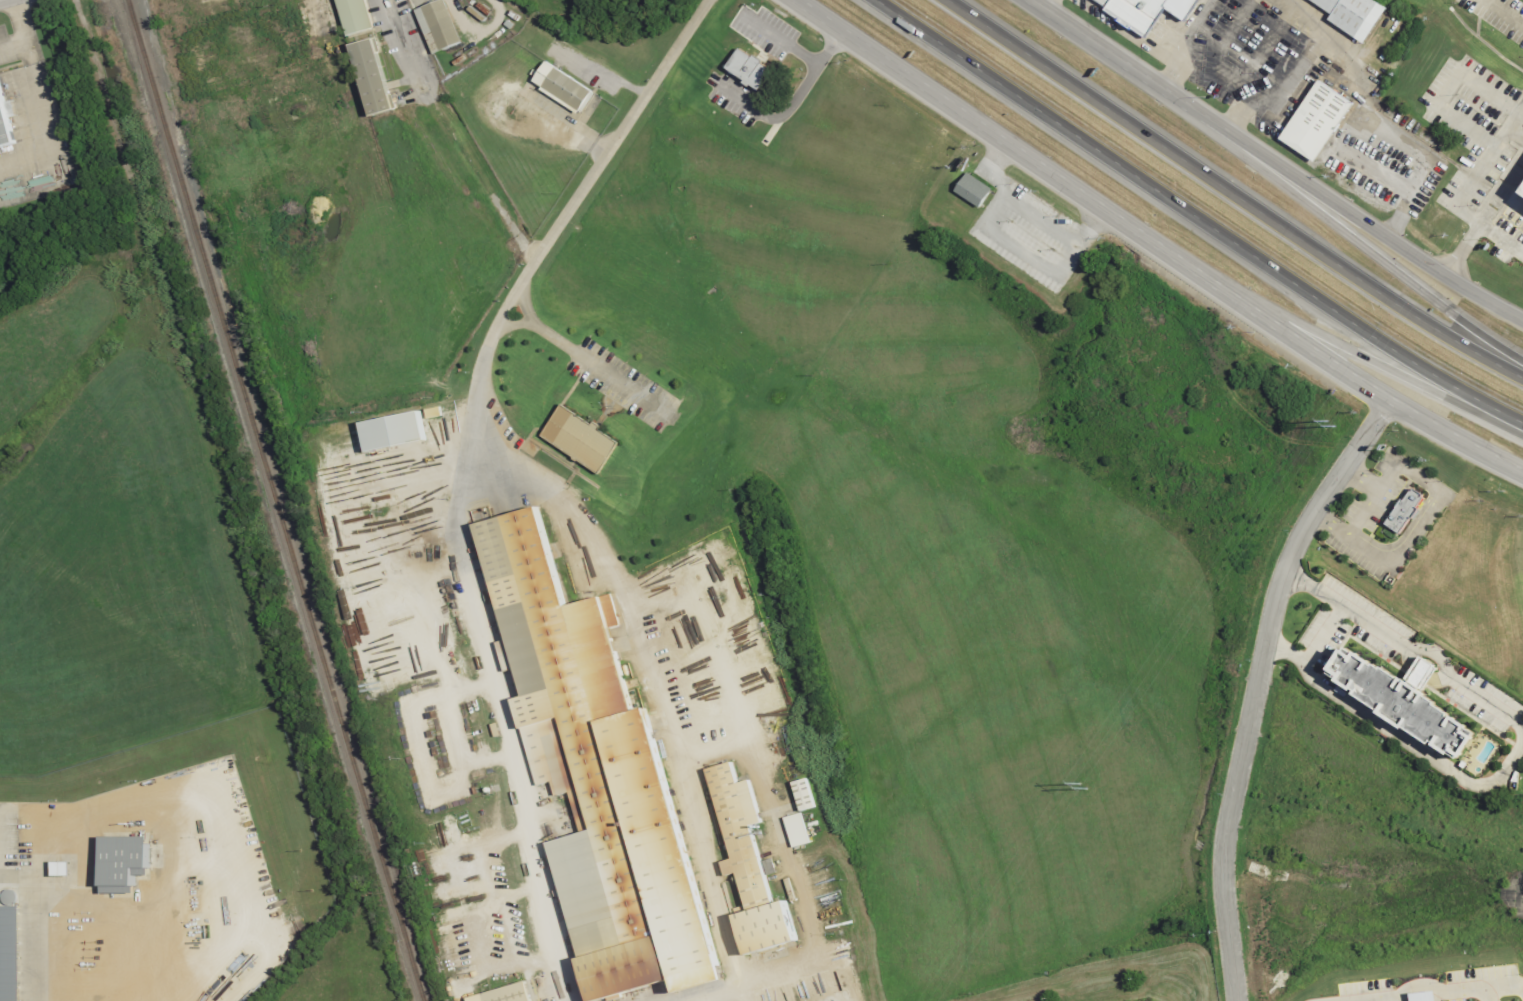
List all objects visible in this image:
road: (1504, 12)
building: (1132, 14)
building: (1352, 15)
building: (359, 16)
building: (442, 27)
parking lot: (771, 36)
road: (803, 57)
building: (746, 68)
building: (379, 77)
building: (566, 87)
road: (799, 92)
road: (1489, 92)
parking lot: (732, 96)
building: (1314, 120)
building: (3, 130)
road: (1384, 130)
road: (455, 132)
road: (1516, 132)
road: (1273, 163)
building: (970, 190)
road: (1232, 191)
building: (1521, 191)
road: (1031, 210)
road: (1195, 216)
road: (1464, 216)
road: (1481, 217)
road: (1499, 239)
road: (1021, 249)
road: (1145, 250)
road: (1383, 261)
road: (1301, 321)
power tower: (1328, 422)
building: (397, 431)
building: (577, 438)
road: (1363, 477)
road: (536, 489)
railway: (274, 500)
road: (1429, 510)
building: (1400, 511)
road: (396, 586)
road: (1322, 635)
road: (418, 638)
road: (1405, 645)
road: (1249, 689)
road: (471, 691)
building: (1401, 702)
road: (512, 734)
road: (1395, 735)
road: (488, 761)
building: (591, 766)
power tower: (1078, 783)
road: (462, 789)
building: (807, 795)
building: (800, 830)
road: (511, 838)
building: (746, 858)
building: (129, 863)
building: (67, 868)
road: (502, 904)
road: (485, 939)
building: (13, 953)
road: (530, 961)
road: (804, 968)
parking lot: (1442, 987)
road: (1444, 992)
building: (510, 994)
road: (739, 994)
road: (1489, 994)

